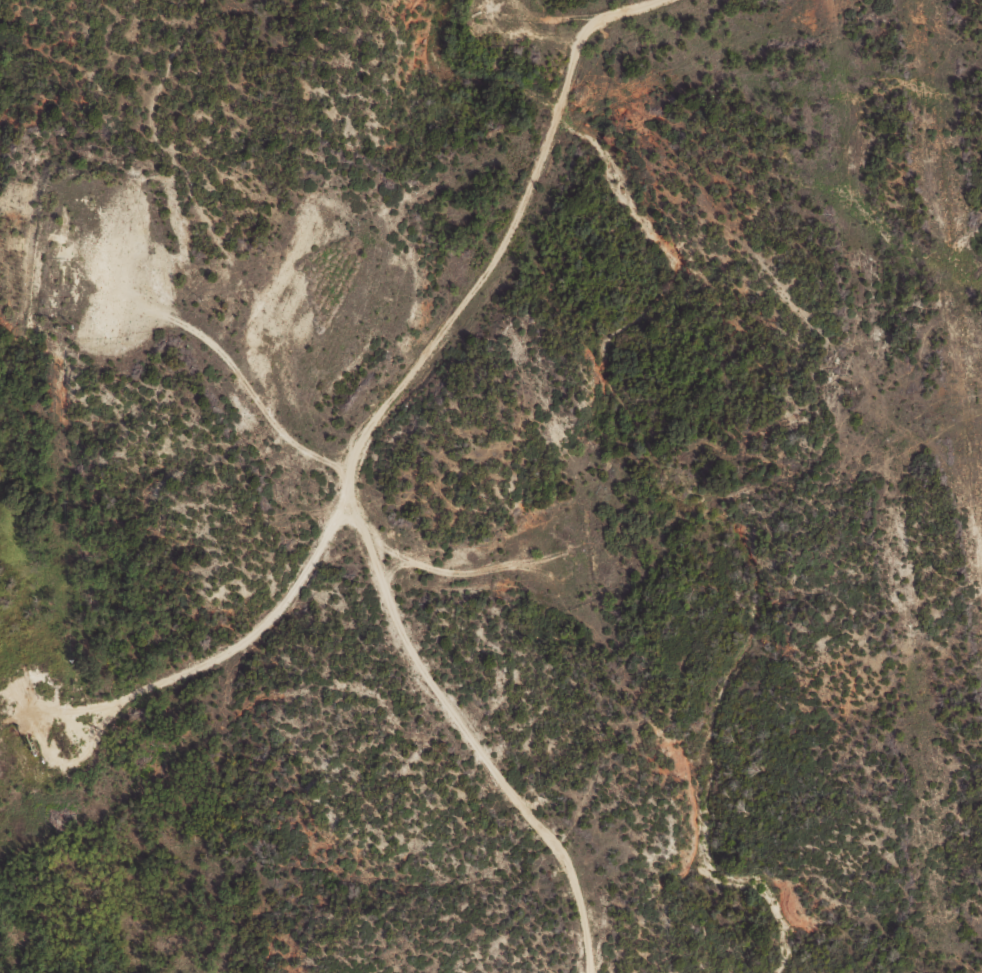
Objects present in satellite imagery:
road: (494, 250)
road: (298, 512)

